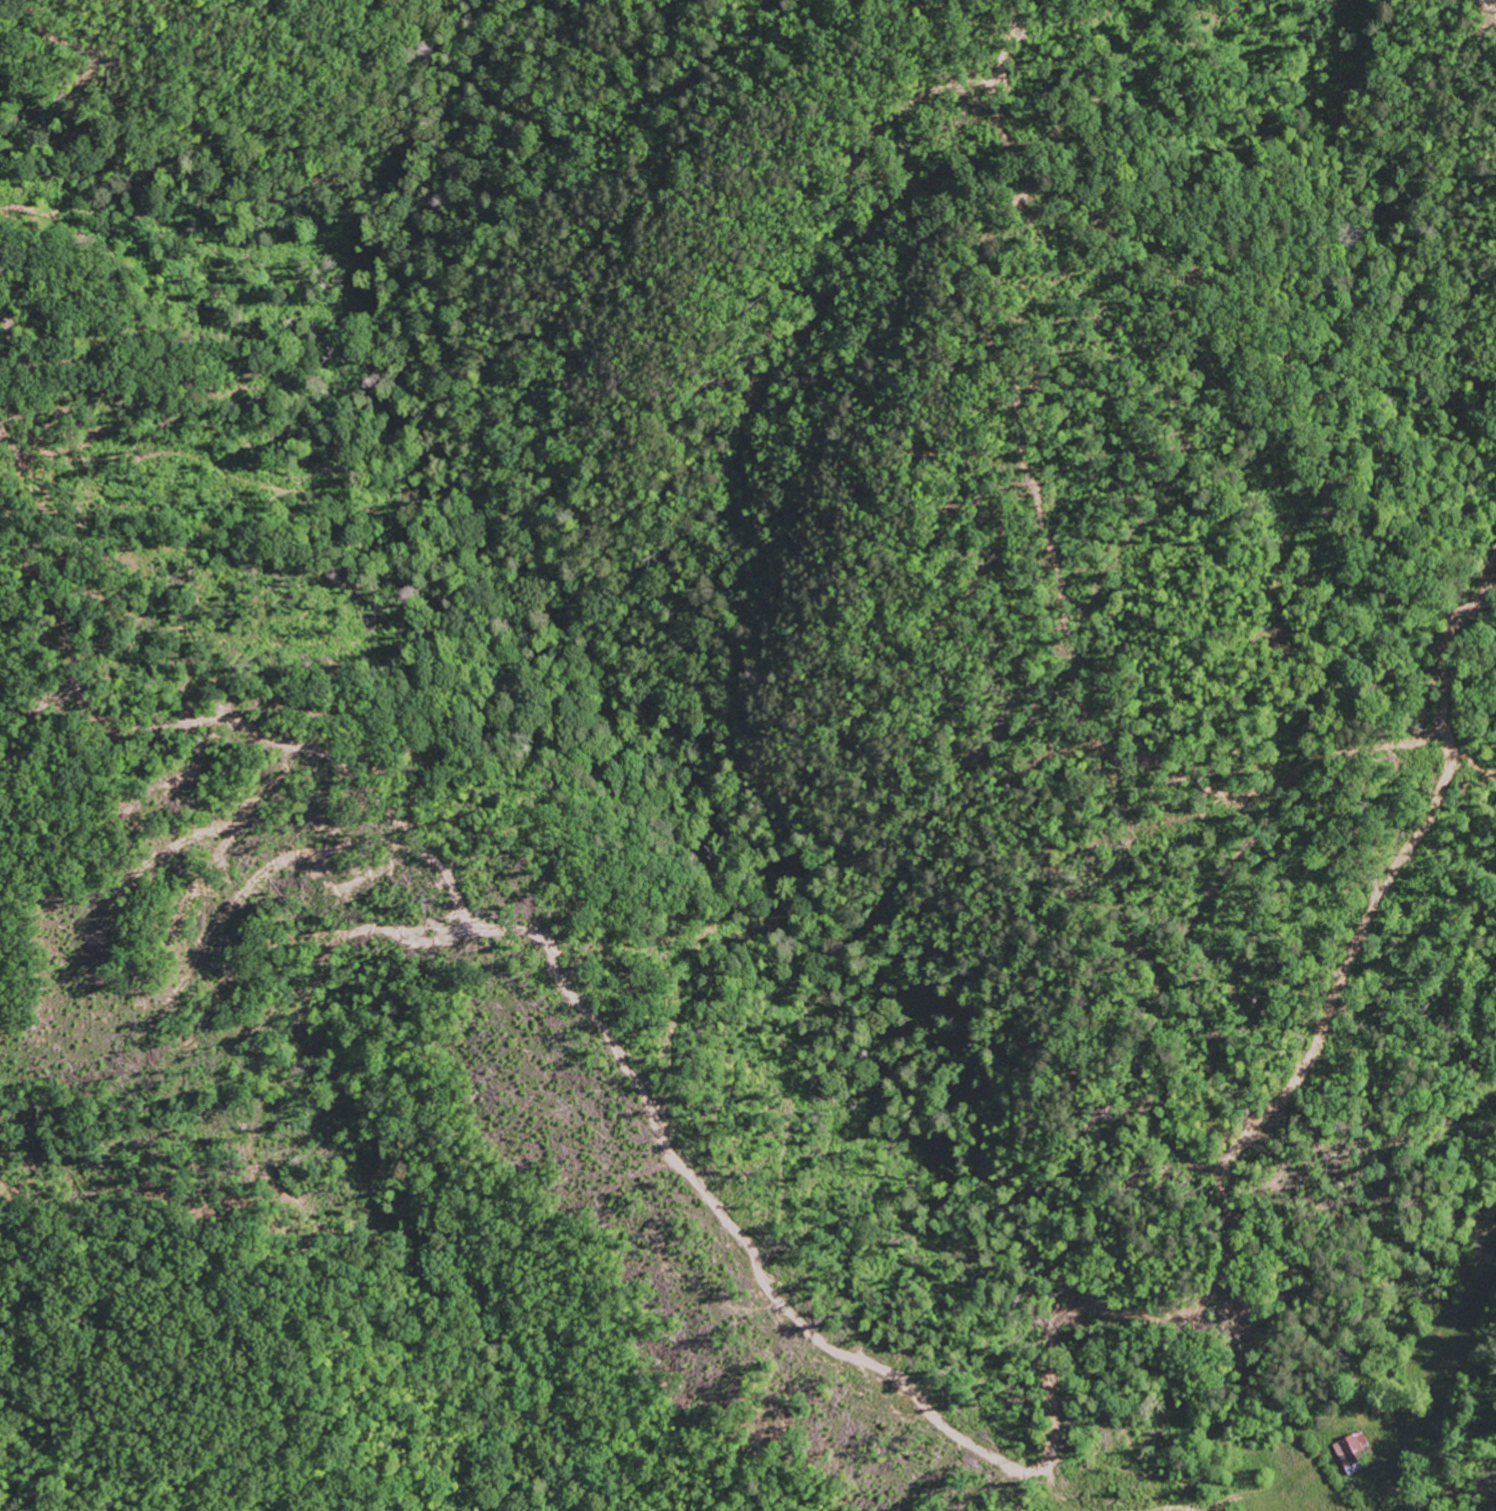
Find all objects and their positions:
building: (1352, 1452)

